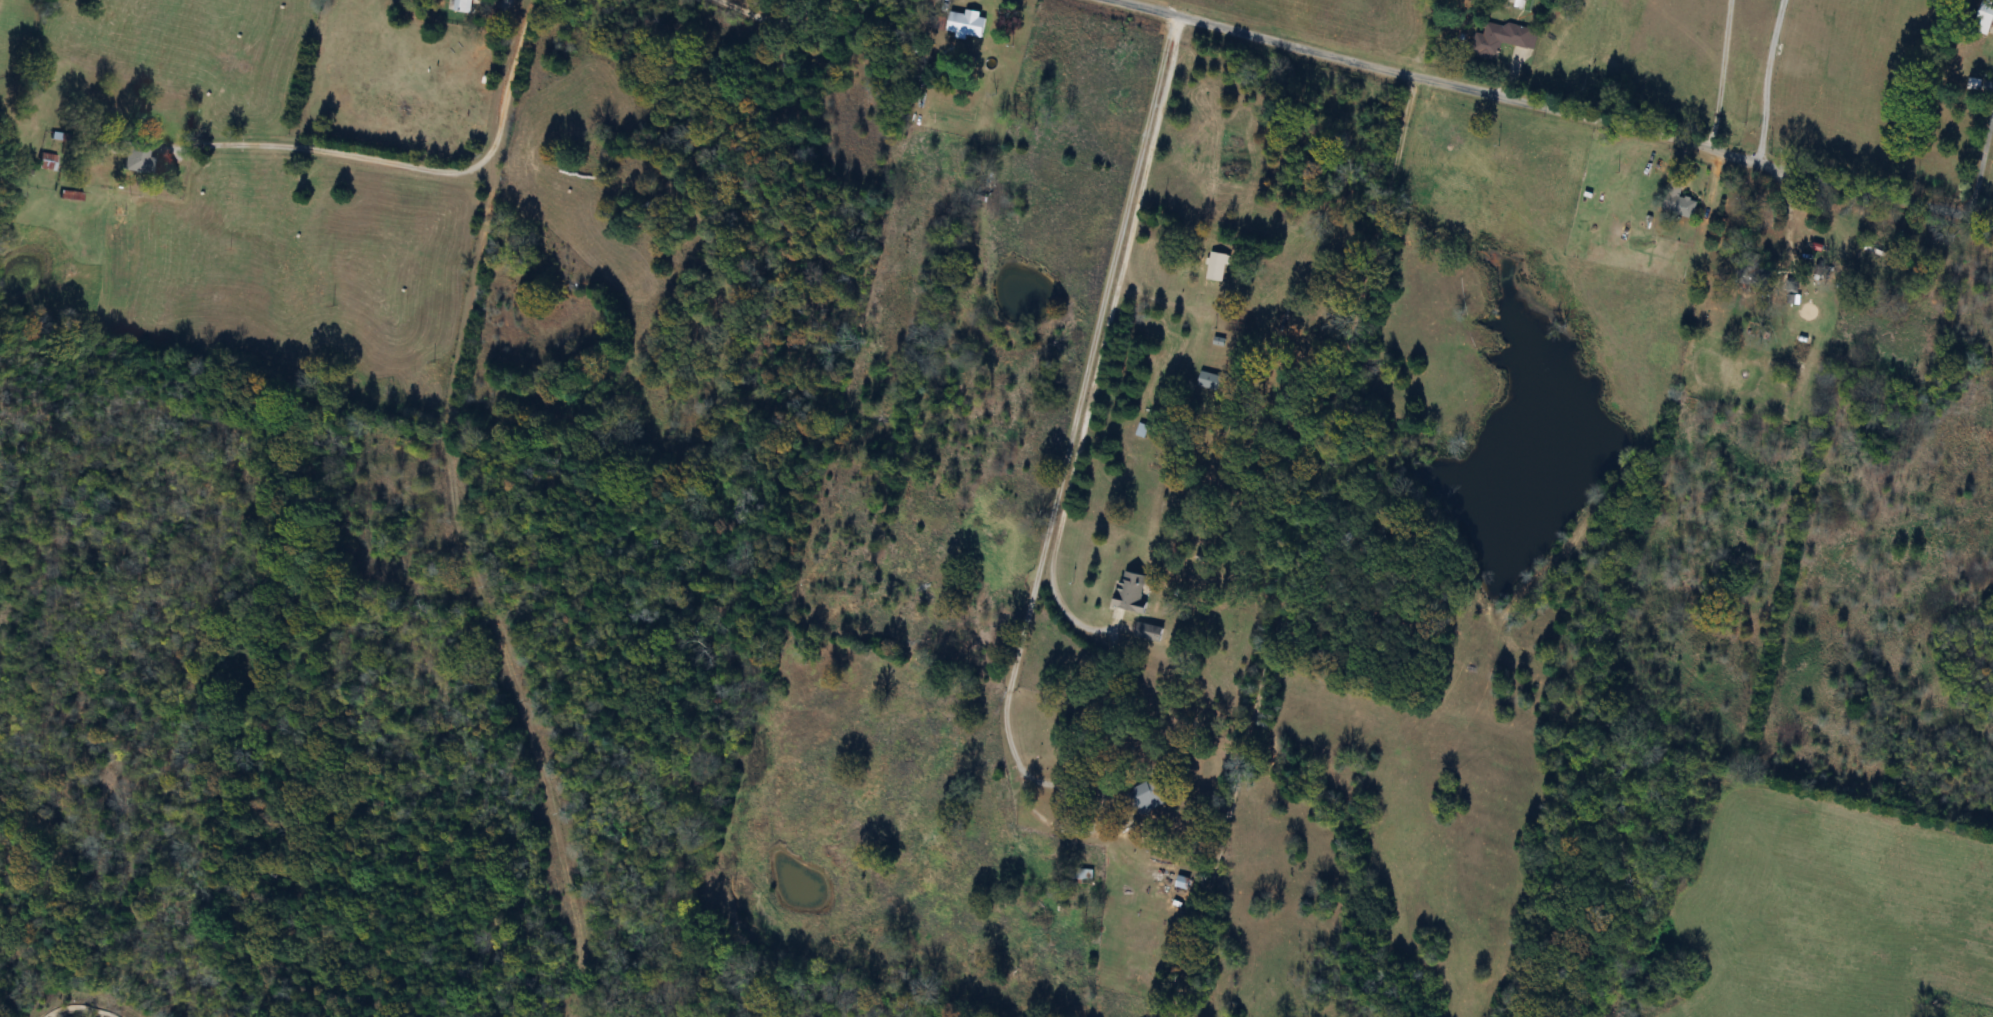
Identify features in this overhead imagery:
building: (458, 5)
building: (1984, 17)
road: (767, 20)
building: (967, 24)
road: (877, 32)
building: (1500, 40)
road: (1724, 75)
road: (1769, 81)
road: (1565, 112)
building: (134, 157)
building: (46, 162)
road: (414, 162)
road: (1000, 162)
road: (1982, 171)
building: (1678, 203)
road: (1788, 216)
building: (1219, 267)
road: (1082, 381)
building: (1209, 381)
building: (1131, 592)
building: (1148, 633)
building: (1147, 798)
building: (1082, 875)

